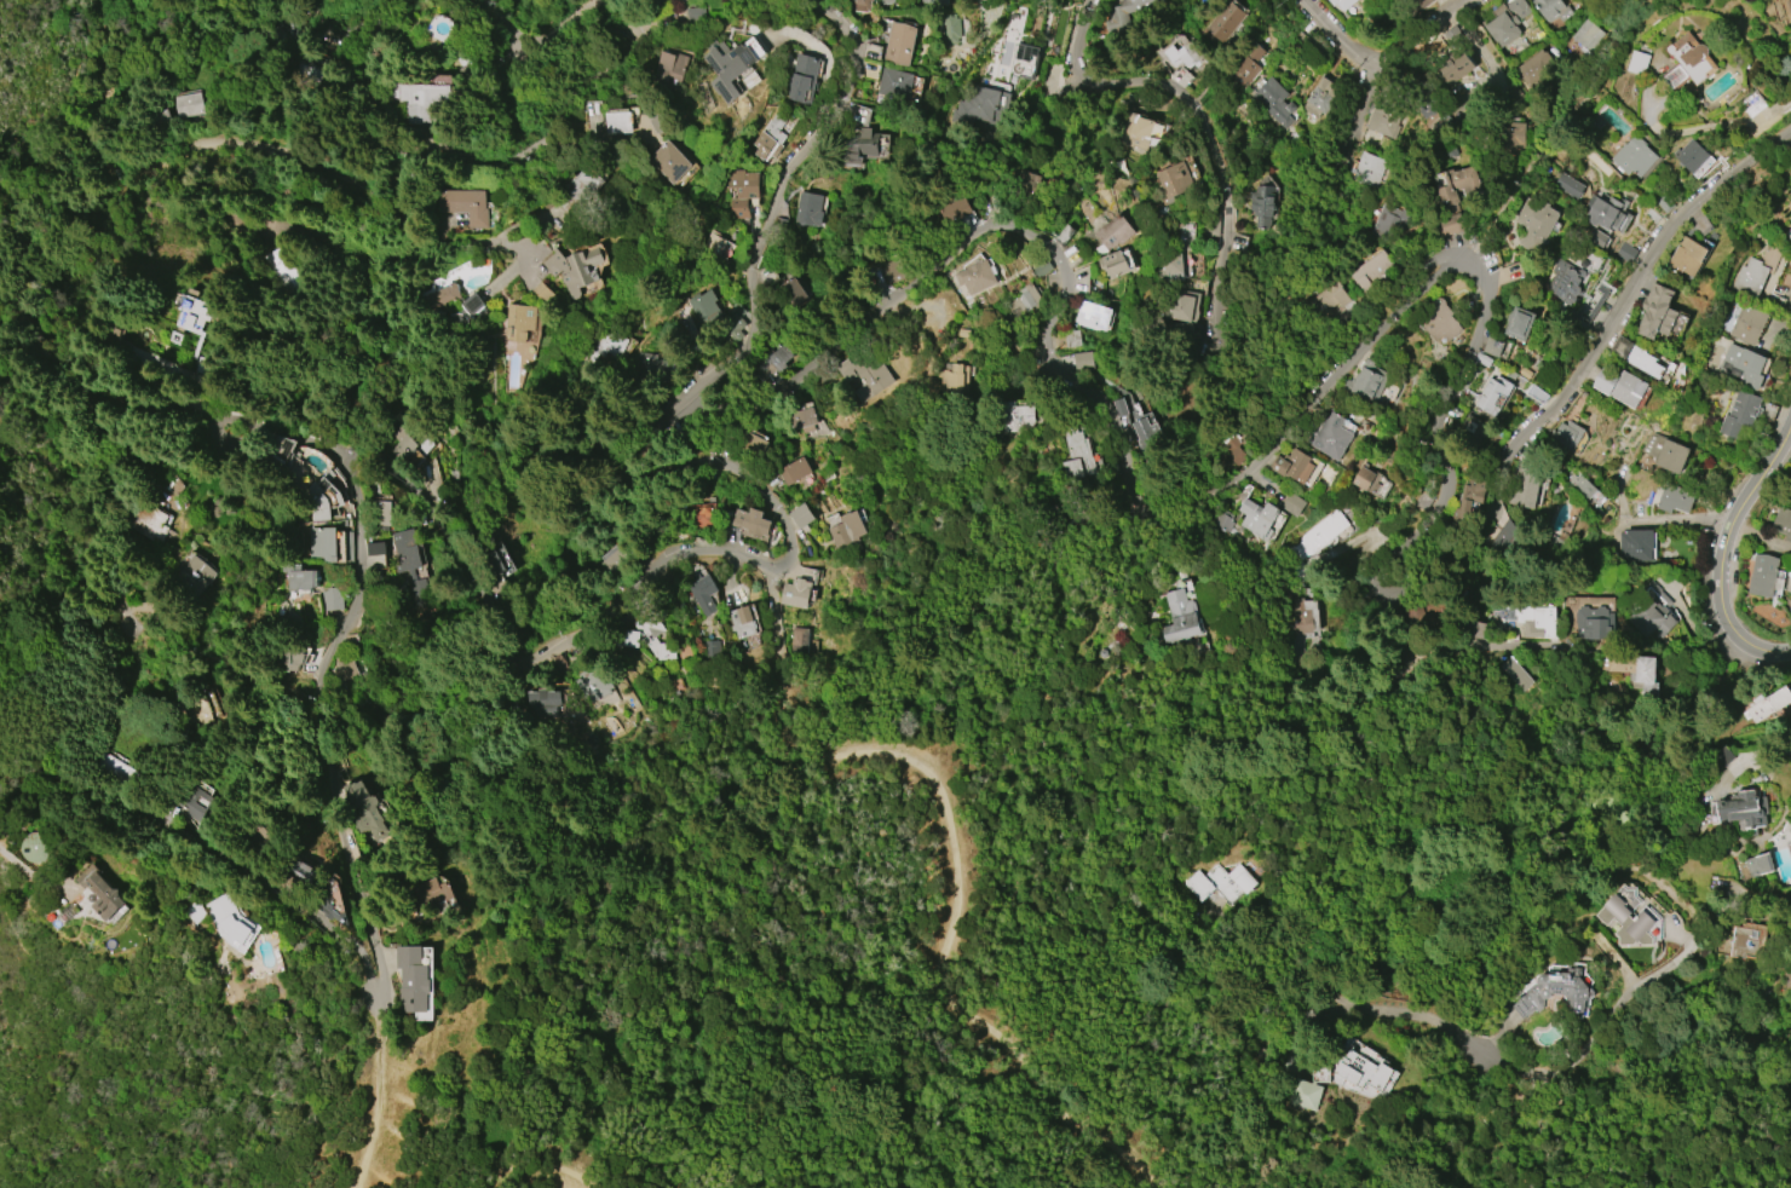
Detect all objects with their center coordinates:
building: (963, 0)
building: (1205, 0)
building: (886, 1)
building: (973, 1)
building: (657, 2)
building: (934, 2)
building: (1341, 4)
building: (1790, 4)
building: (860, 5)
building: (1413, 5)
building: (1551, 10)
road: (330, 12)
road: (361, 12)
building: (1125, 13)
building: (1225, 19)
road: (496, 28)
building: (1503, 28)
road: (552, 29)
building: (951, 30)
road: (1336, 31)
road: (1422, 31)
building: (1588, 38)
building: (899, 44)
building: (1187, 56)
building: (1688, 62)
building: (1637, 63)
building: (731, 64)
building: (1248, 65)
building: (1456, 67)
building: (1533, 67)
building: (672, 68)
road: (100, 69)
road: (81, 70)
road: (1597, 70)
building: (802, 79)
building: (895, 83)
road: (1521, 85)
building: (1321, 96)
building: (417, 99)
building: (1274, 102)
building: (1752, 103)
building: (186, 104)
road: (548, 105)
road: (1357, 108)
building: (981, 110)
building: (1384, 117)
building: (1435, 119)
building: (618, 120)
road: (1204, 127)
building: (1136, 128)
road: (223, 132)
building: (770, 137)
building: (1511, 137)
building: (859, 146)
building: (1634, 155)
building: (1689, 156)
road: (97, 161)
building: (669, 161)
building: (1367, 169)
building: (686, 177)
building: (1173, 181)
road: (349, 183)
building: (1568, 185)
building: (742, 190)
building: (582, 191)
building: (1455, 200)
building: (1666, 201)
building: (463, 206)
building: (1262, 206)
building: (808, 209)
building: (1608, 214)
building: (1390, 223)
building: (1536, 223)
building: (1115, 231)
building: (1065, 235)
building: (1789, 235)
building: (713, 243)
road: (430, 247)
building: (1624, 252)
building: (1686, 256)
building: (1117, 263)
building: (1182, 266)
building: (280, 269)
building: (575, 269)
building: (1371, 270)
building: (977, 277)
building: (1760, 277)
building: (1565, 282)
building: (795, 290)
building: (541, 293)
building: (454, 299)
building: (1025, 300)
building: (1325, 300)
building: (1597, 302)
building: (1180, 306)
building: (699, 310)
building: (1657, 312)
building: (1093, 316)
building: (520, 317)
building: (1440, 321)
building: (1519, 323)
building: (1747, 325)
building: (731, 327)
building: (114, 331)
building: (194, 331)
road: (1325, 336)
building: (1072, 339)
building: (606, 344)
building: (1492, 344)
building: (1622, 346)
building: (1082, 361)
building: (1643, 362)
building: (766, 363)
building: (1743, 367)
building: (649, 369)
building: (866, 375)
building: (954, 377)
building: (1603, 380)
building: (1371, 381)
building: (1628, 390)
building: (1491, 394)
building: (1537, 394)
road: (1561, 397)
building: (1739, 414)
building: (802, 417)
building: (1017, 417)
building: (1136, 423)
building: (1470, 426)
building: (1566, 434)
road: (280, 436)
building: (1332, 436)
building: (413, 445)
building: (1076, 452)
building: (1665, 454)
building: (1298, 466)
building: (795, 471)
building: (1371, 481)
building: (1579, 485)
building: (1526, 489)
building: (323, 497)
building: (1674, 498)
building: (1439, 500)
building: (1467, 501)
building: (1294, 504)
building: (381, 511)
road: (1165, 512)
building: (704, 514)
building: (801, 517)
building: (1259, 518)
building: (1783, 523)
building: (148, 524)
building: (756, 524)
building: (847, 531)
building: (1319, 534)
building: (1639, 543)
building: (322, 544)
road: (1723, 548)
building: (376, 549)
building: (407, 550)
road: (1708, 554)
building: (495, 559)
building: (1762, 575)
building: (194, 576)
building: (299, 577)
building: (417, 589)
road: (630, 590)
building: (799, 590)
building: (704, 594)
building: (332, 598)
road: (771, 615)
building: (1301, 616)
road: (935, 617)
building: (1180, 617)
building: (1653, 617)
building: (1537, 619)
building: (744, 621)
building: (1595, 623)
building: (122, 625)
building: (649, 638)
building: (799, 640)
building: (534, 654)
road: (1458, 654)
building: (289, 658)
building: (342, 669)
building: (1642, 669)
building: (1516, 674)
building: (594, 684)
building: (1649, 692)
building: (540, 699)
building: (1768, 704)
building: (195, 710)
road: (1743, 767)
building: (113, 768)
building: (197, 797)
building: (365, 811)
building: (1743, 811)
building: (35, 847)
road: (213, 855)
building: (1758, 864)
road: (30, 869)
building: (300, 871)
building: (1219, 882)
building: (432, 892)
building: (102, 893)
building: (334, 904)
road: (952, 904)
building: (1628, 917)
building: (228, 919)
building: (1746, 941)
building: (1789, 976)
building: (414, 979)
building: (1556, 992)
road: (168, 1046)
road: (1577, 1056)
building: (1359, 1066)
building: (1302, 1094)
road: (370, 1112)
road: (526, 1165)

